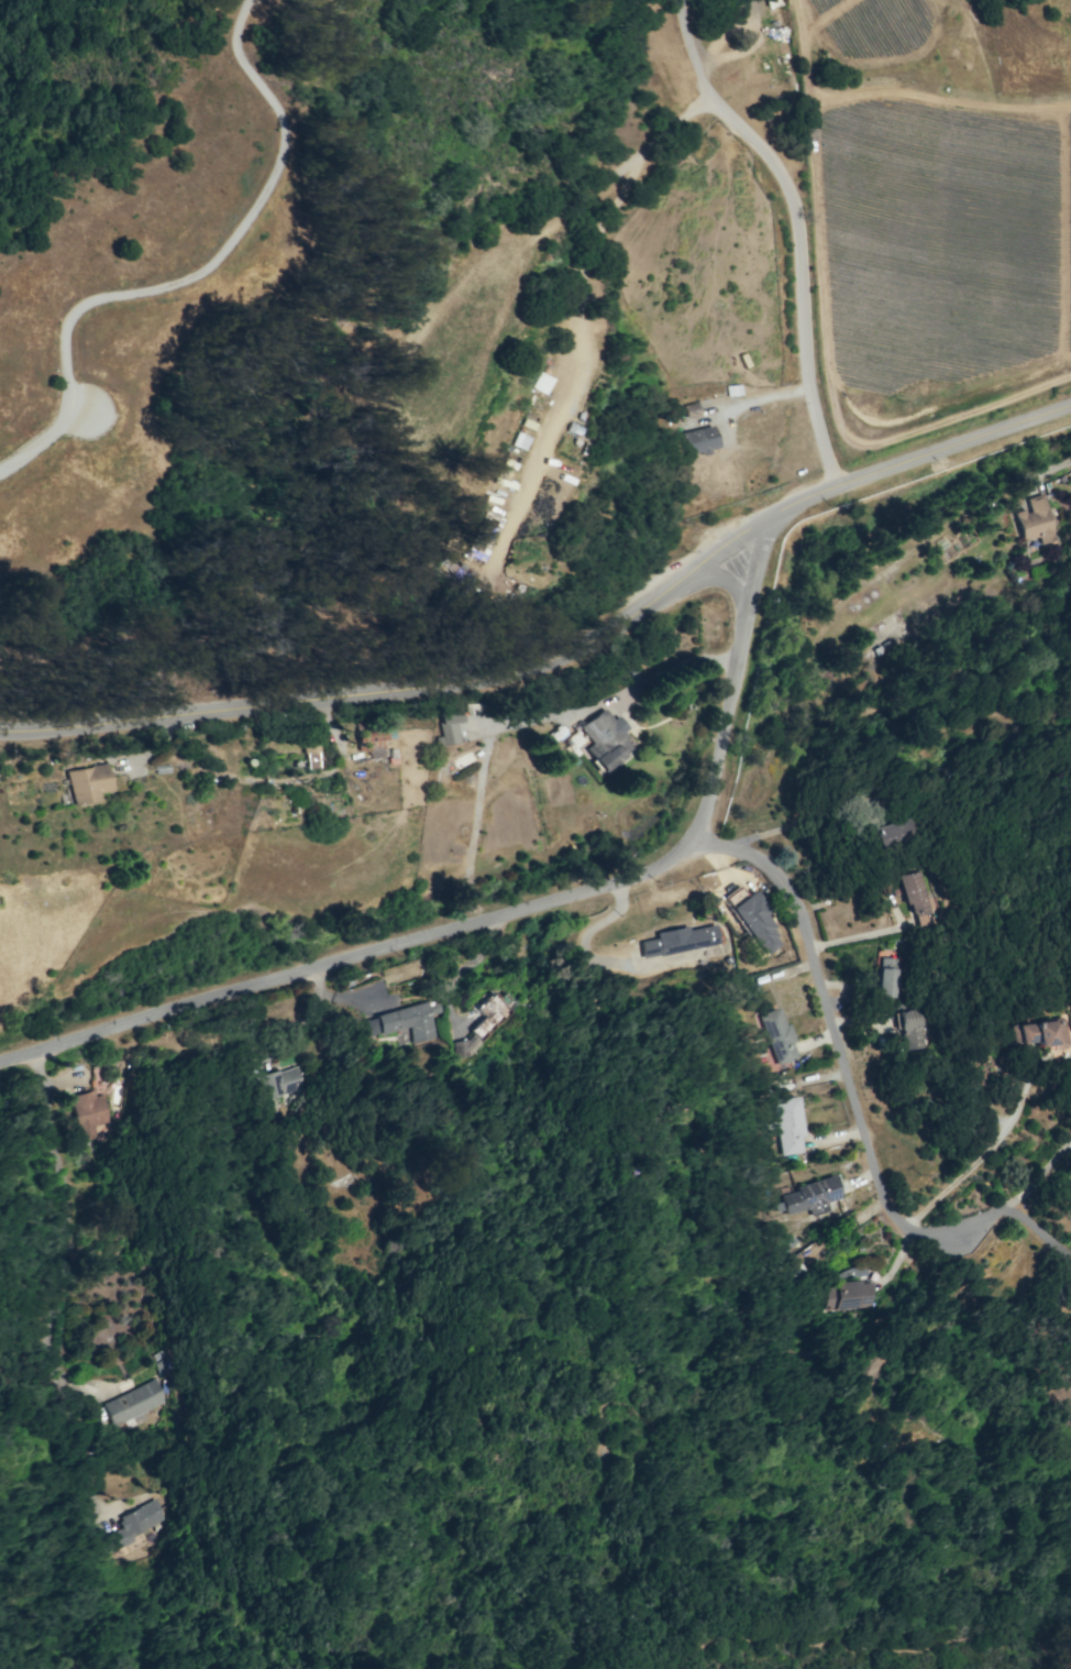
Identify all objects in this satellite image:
road: (692, 51)
crop: (929, 229)
road: (221, 241)
road: (802, 268)
road: (582, 288)
building: (692, 409)
building: (697, 440)
road: (41, 442)
building: (1034, 519)
road: (739, 654)
road: (566, 657)
road: (520, 724)
building: (450, 725)
building: (605, 740)
building: (369, 742)
building: (87, 782)
building: (898, 833)
building: (918, 897)
building: (755, 921)
building: (677, 940)
road: (351, 963)
building: (887, 977)
building: (488, 1014)
building: (407, 1020)
building: (912, 1029)
building: (1041, 1032)
building: (776, 1035)
building: (463, 1046)
building: (279, 1081)
road: (853, 1098)
building: (88, 1113)
building: (788, 1124)
road: (971, 1166)
building: (810, 1196)
road: (69, 1237)
building: (846, 1295)
building: (133, 1404)
road: (80, 1445)
building: (136, 1522)

